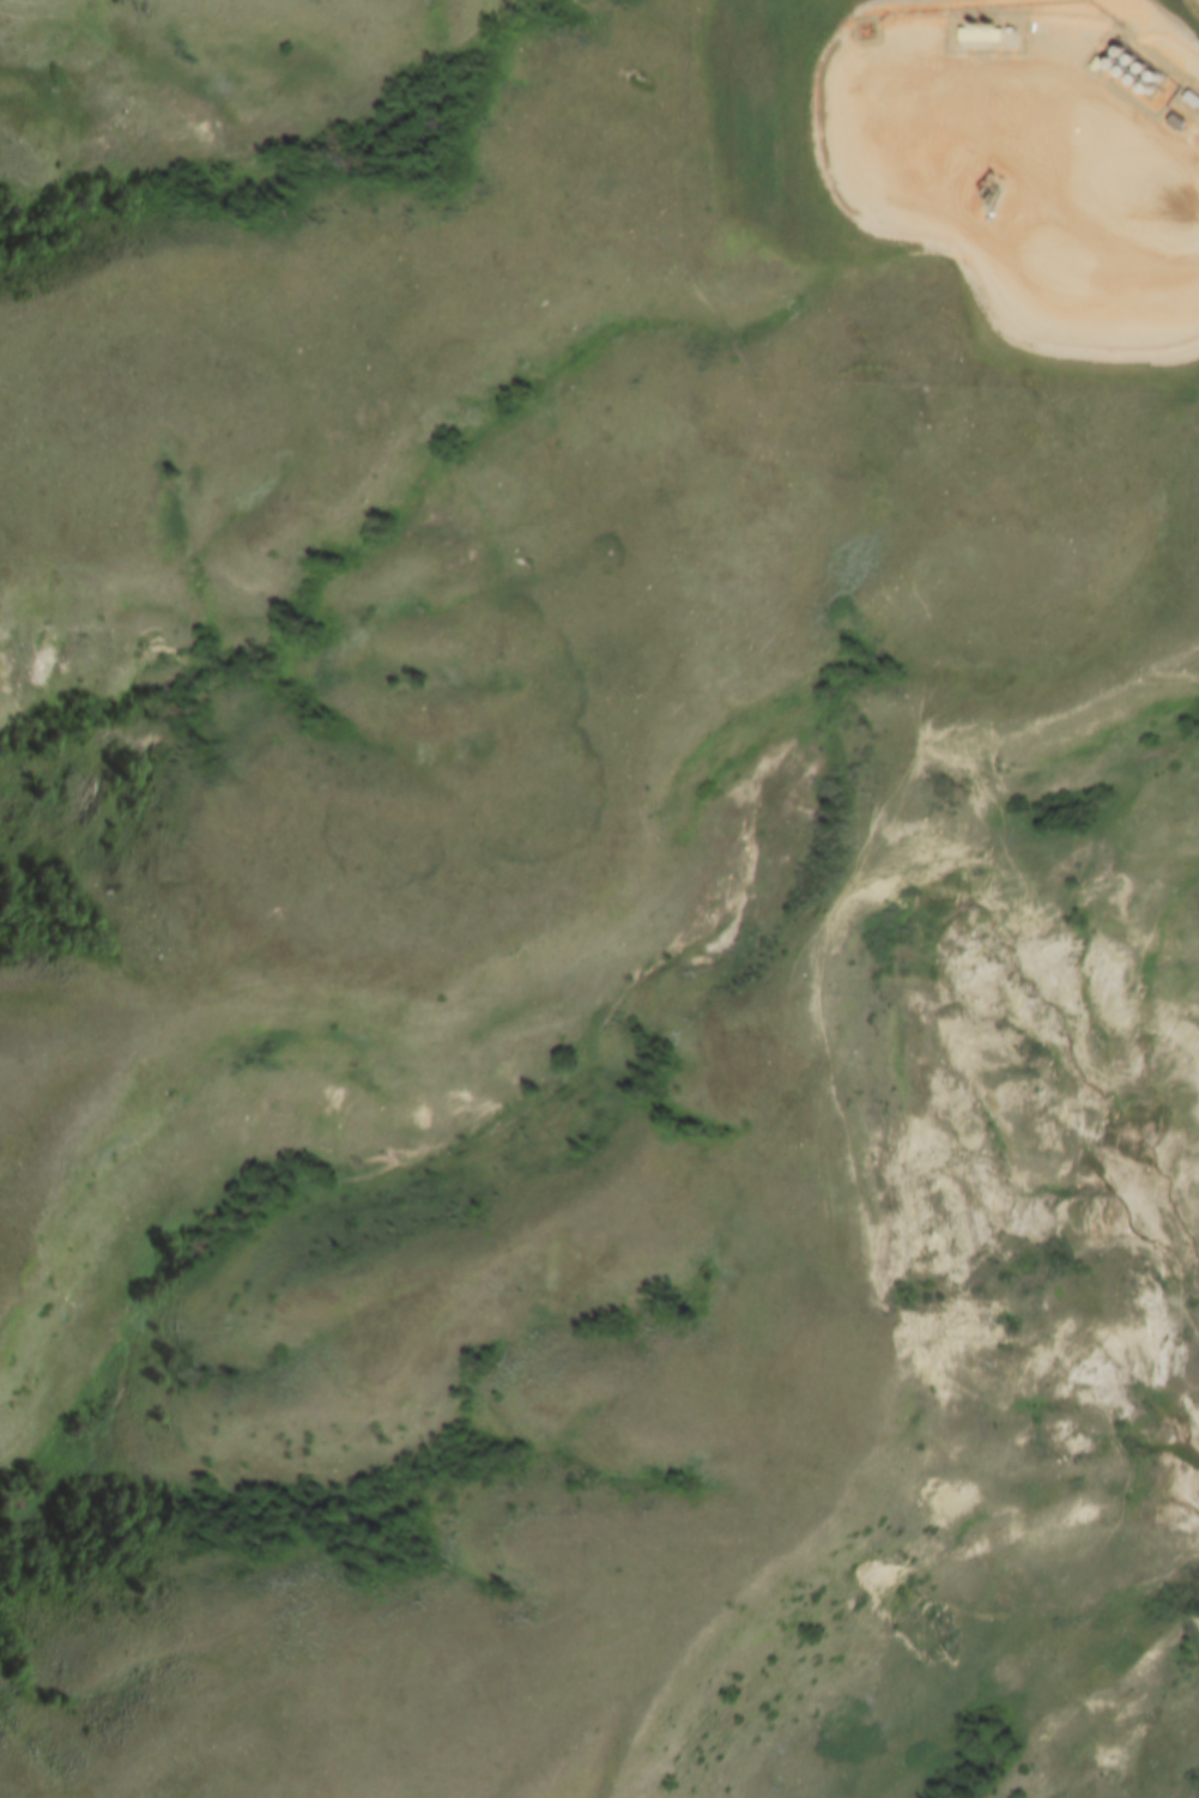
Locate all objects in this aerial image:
road: (1090, 287)

